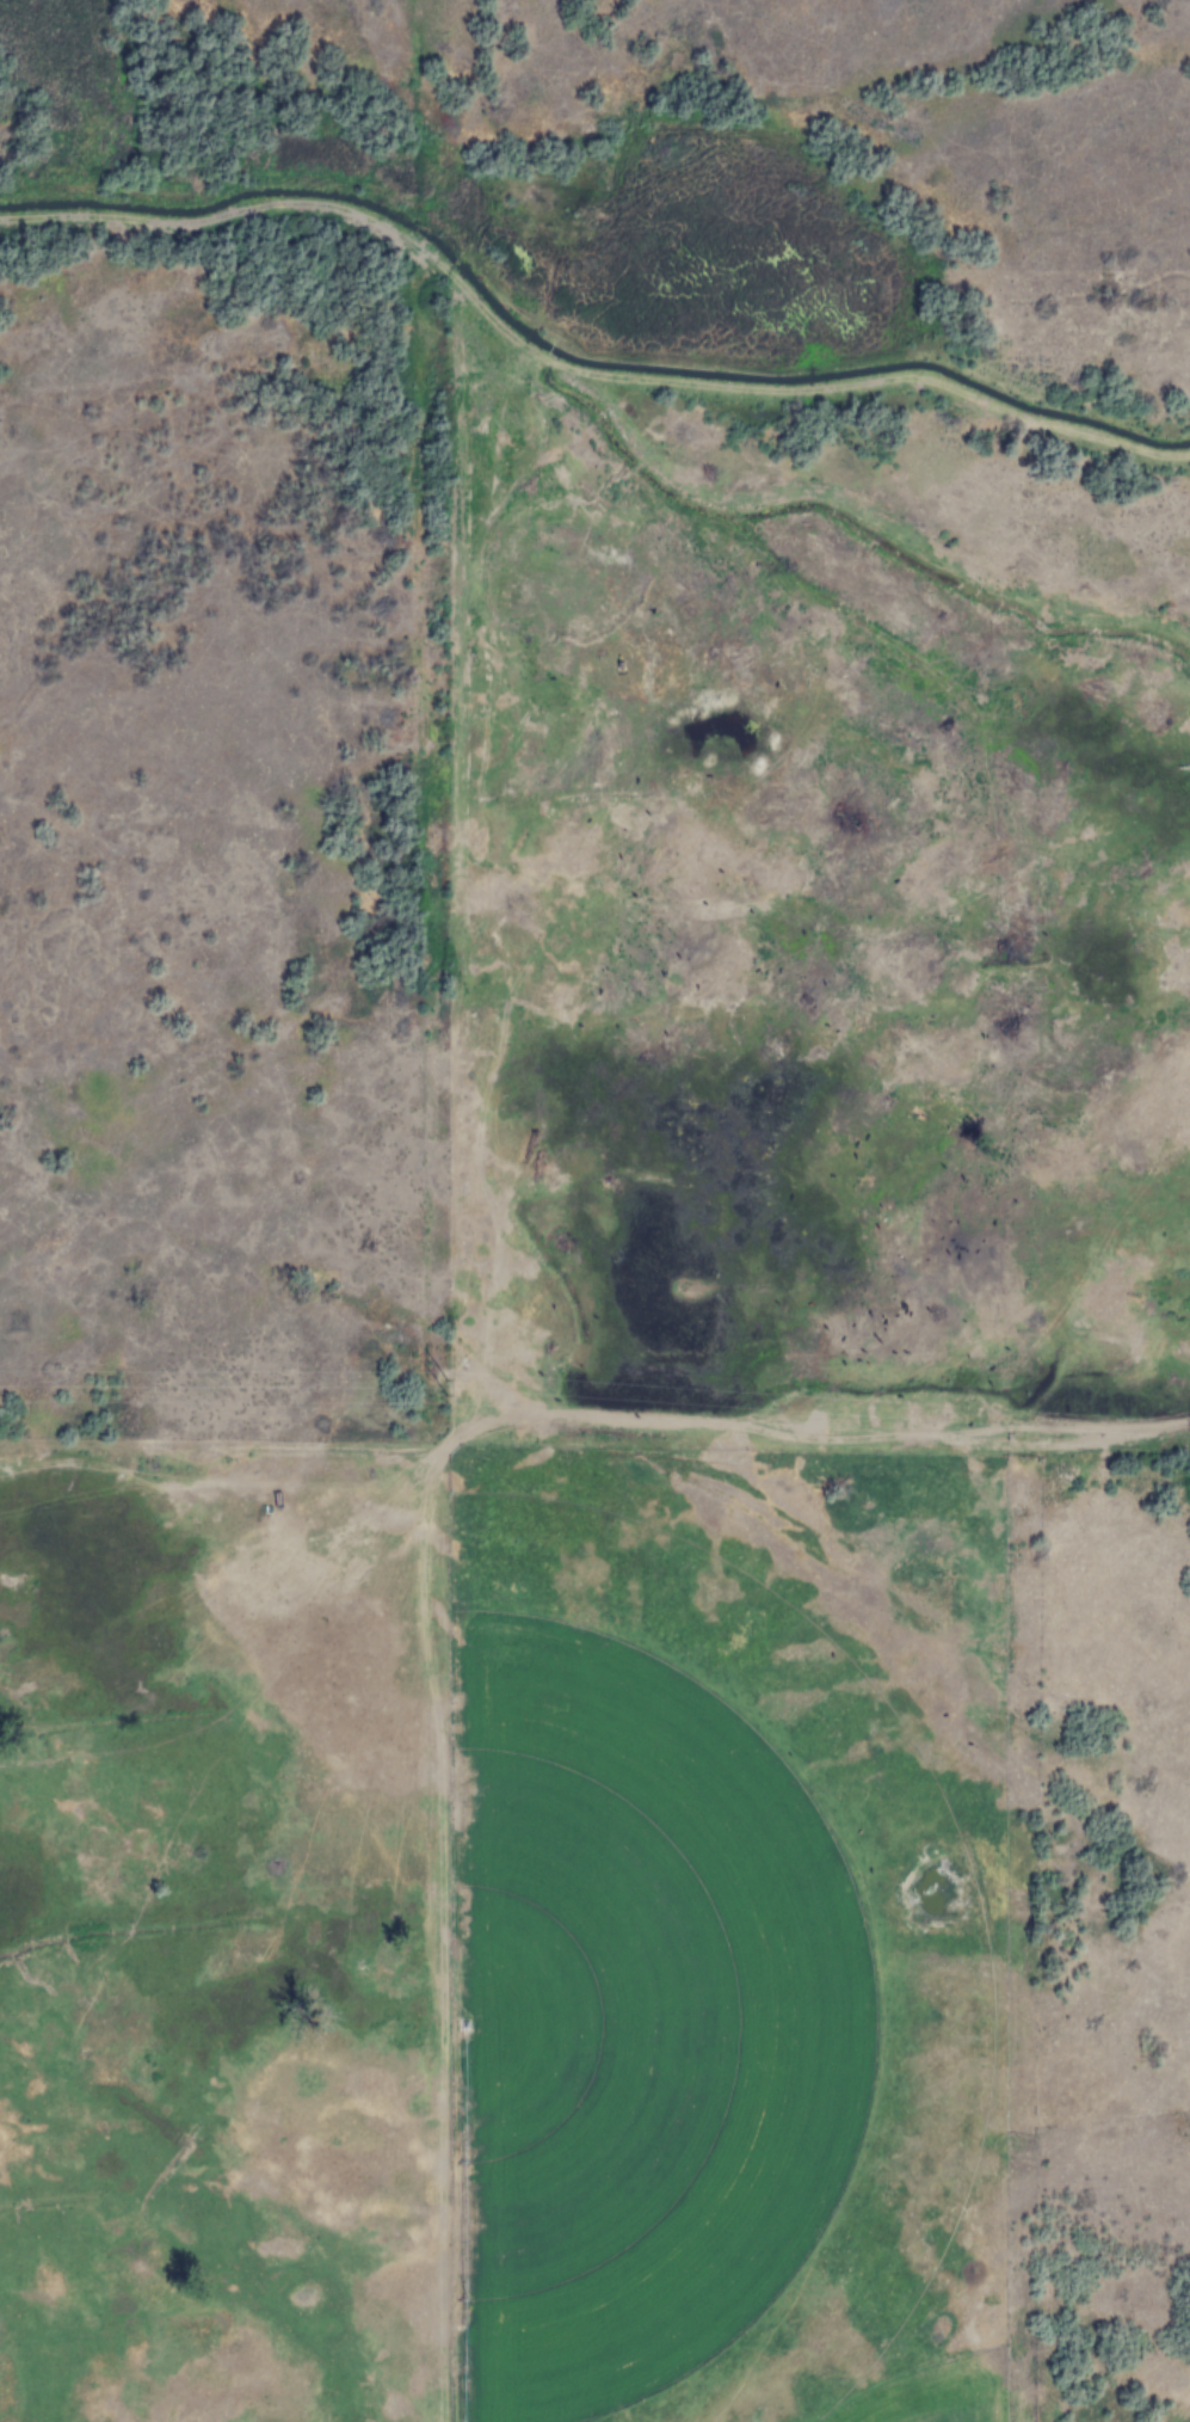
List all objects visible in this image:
power tower: (448, 1387)
crop: (716, 1956)
crop: (1184, 2415)

